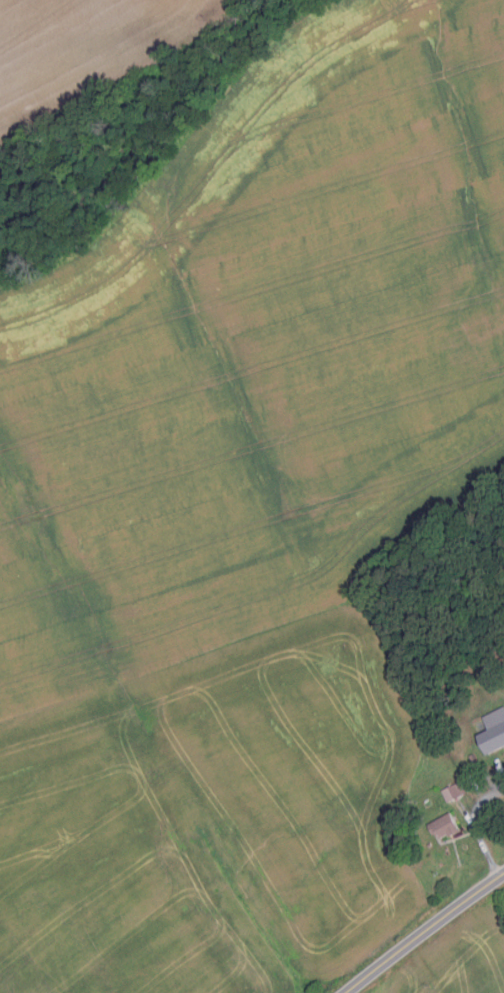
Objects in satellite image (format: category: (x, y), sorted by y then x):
crop: (85, 50)
crop: (243, 511)
building: (493, 730)
building: (457, 789)
building: (447, 825)
road: (476, 826)
road: (424, 932)

